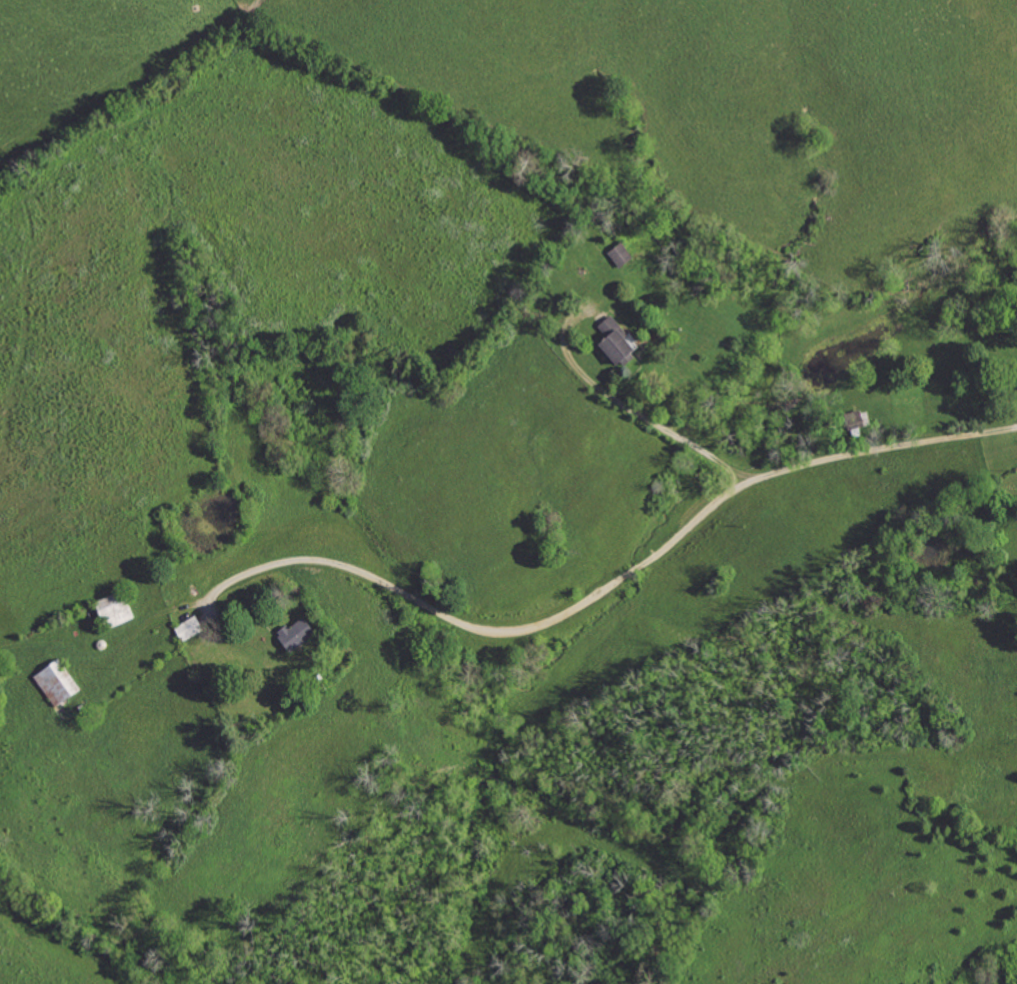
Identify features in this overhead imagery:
building: (621, 253)
building: (617, 341)
road: (625, 404)
road: (617, 582)
building: (190, 627)
building: (297, 633)
building: (58, 681)

